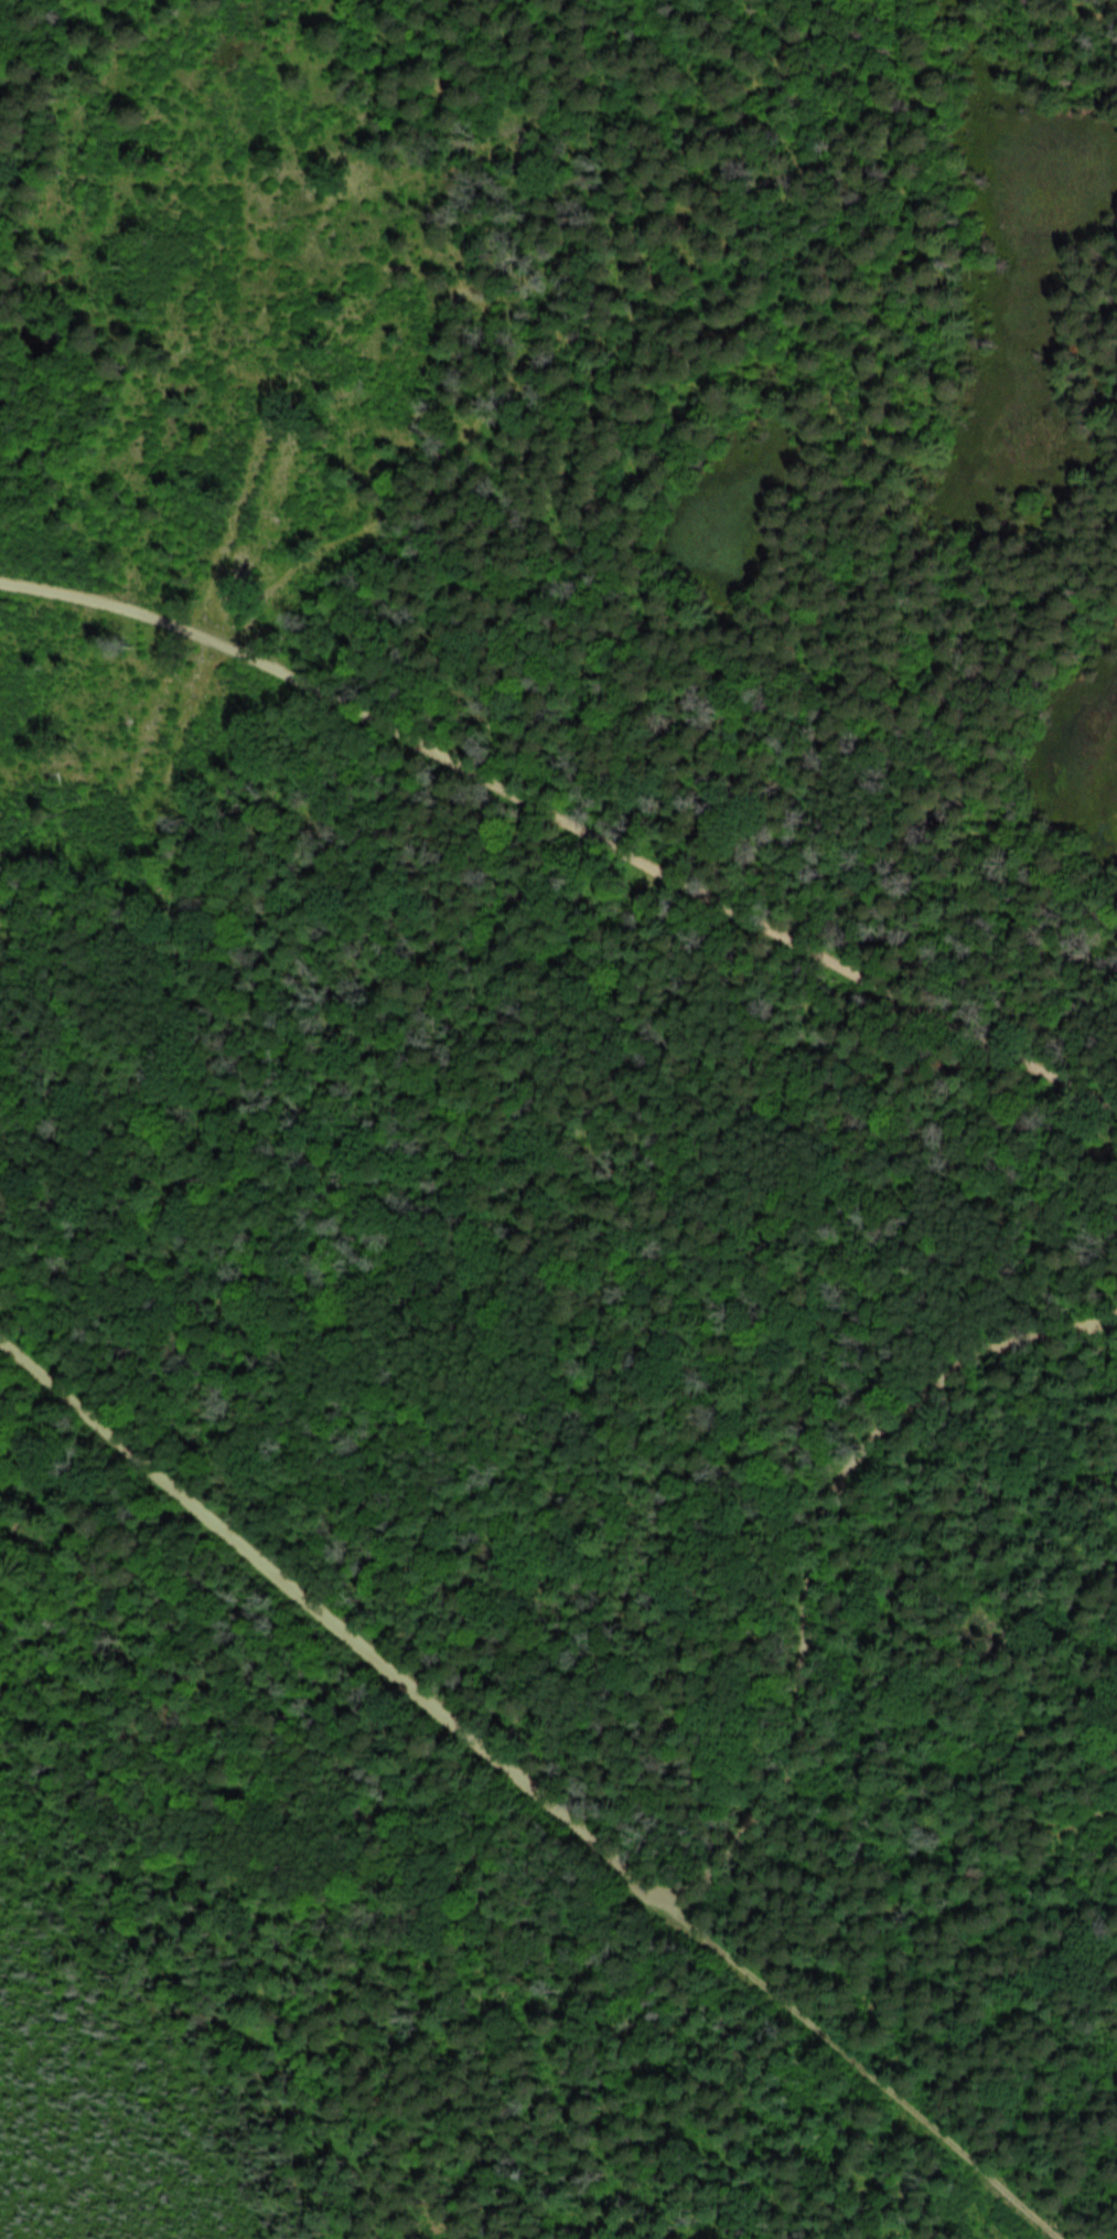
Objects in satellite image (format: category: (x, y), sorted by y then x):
road: (567, 823)
road: (821, 1538)
road: (533, 1787)

